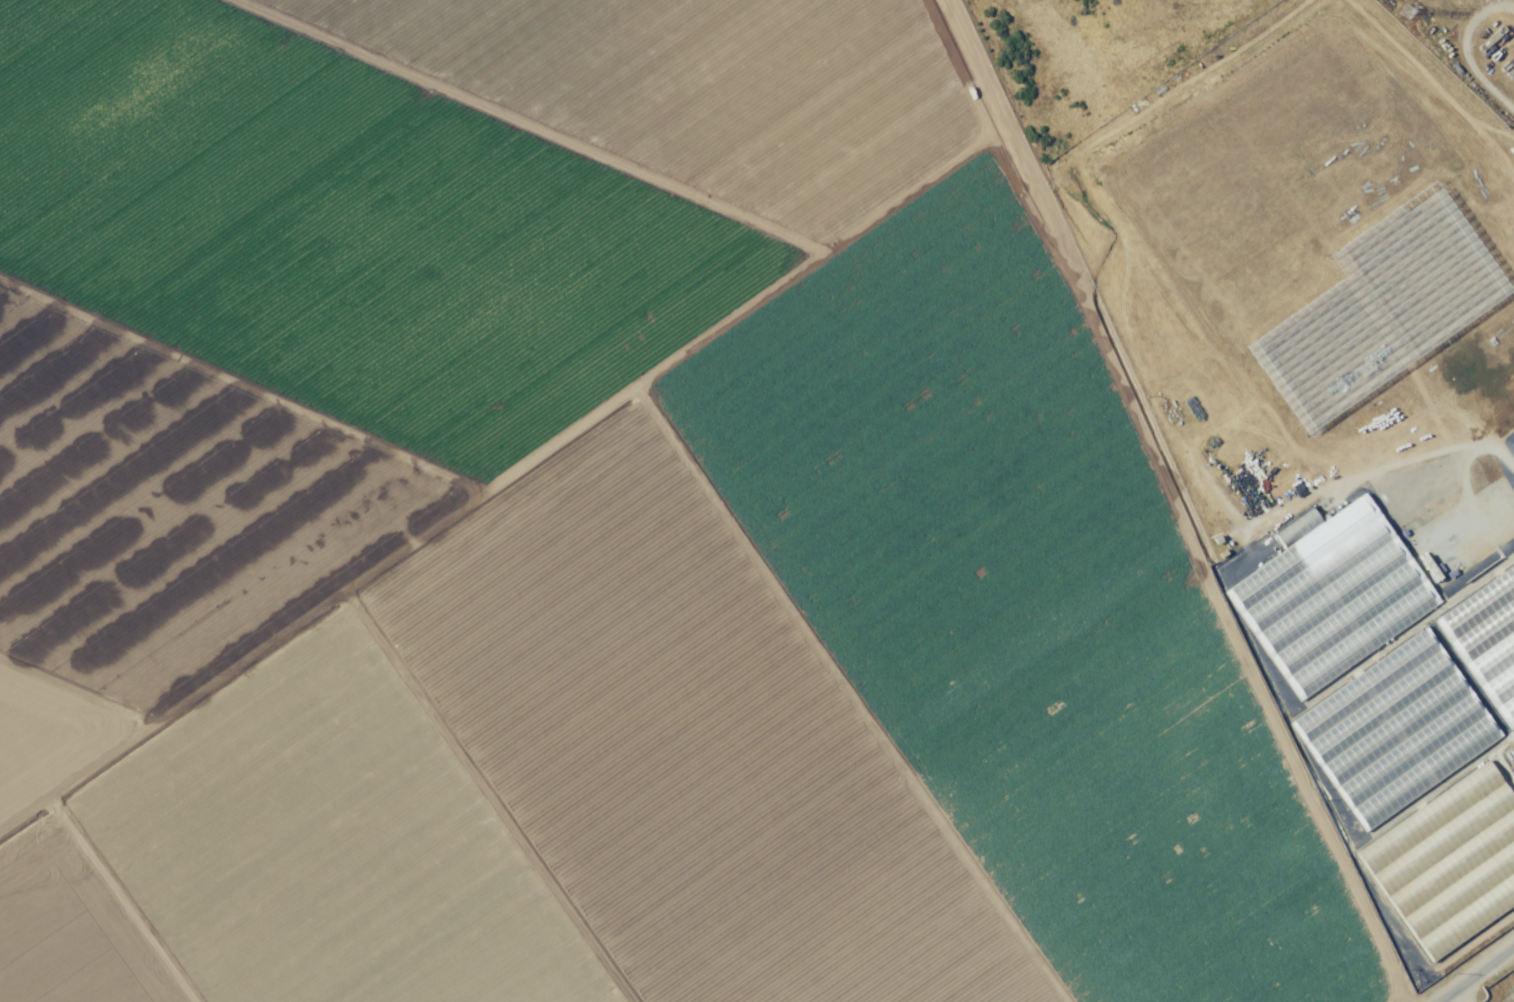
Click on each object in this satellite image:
power tower: (1405, 10)
road: (573, 178)
building: (1394, 311)
building: (1321, 327)
building: (1408, 331)
building: (1429, 335)
building: (1267, 346)
building: (1339, 350)
building: (1431, 361)
building: (1271, 380)
building: (1367, 392)
building: (1310, 437)
building: (1251, 470)
building: (1494, 477)
crop: (631, 517)
road: (411, 576)
building: (1333, 595)
building: (1483, 621)
road: (1255, 679)
building: (1397, 730)
building: (1509, 752)
building: (1450, 862)
road: (1474, 974)

